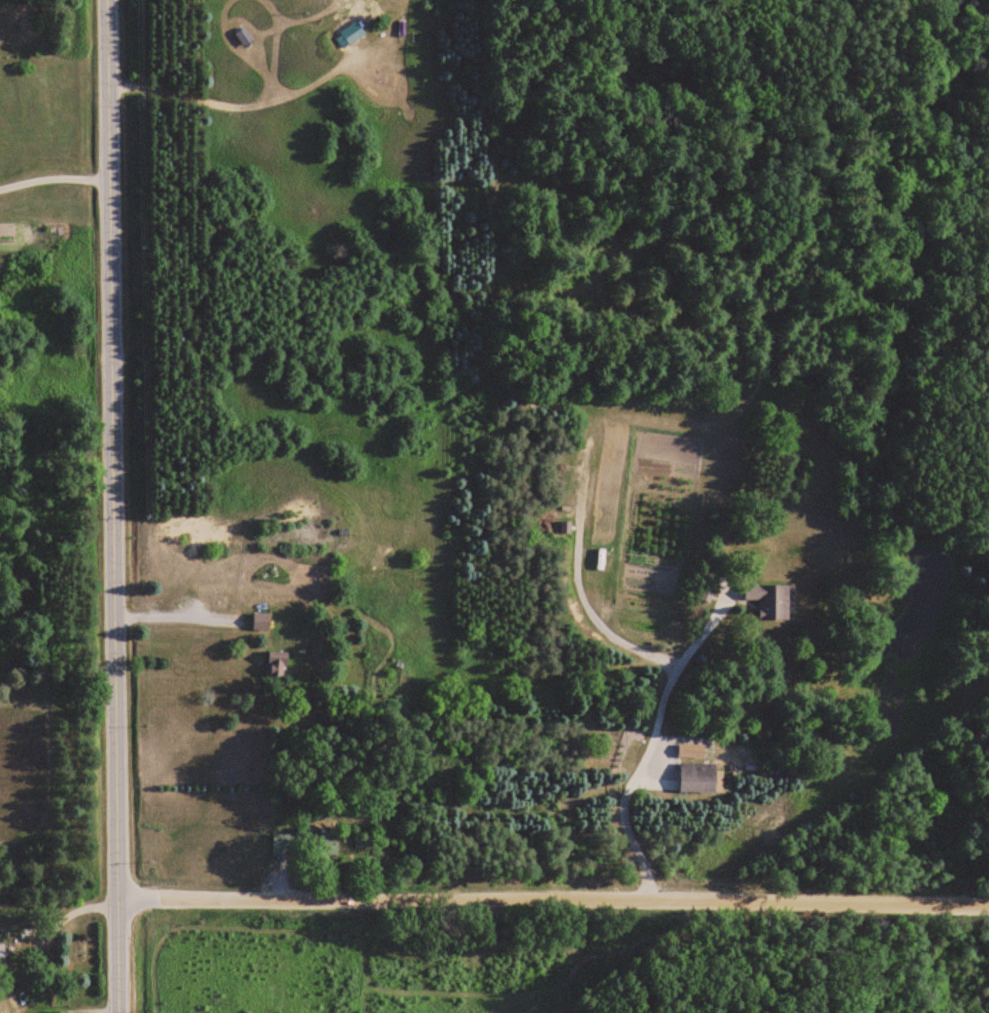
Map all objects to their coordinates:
building: (353, 34)
building: (244, 38)
road: (115, 506)
building: (770, 599)
building: (261, 621)
building: (277, 664)
building: (698, 777)
building: (363, 841)
building: (323, 844)
building: (282, 845)
road: (554, 898)
building: (2, 955)

